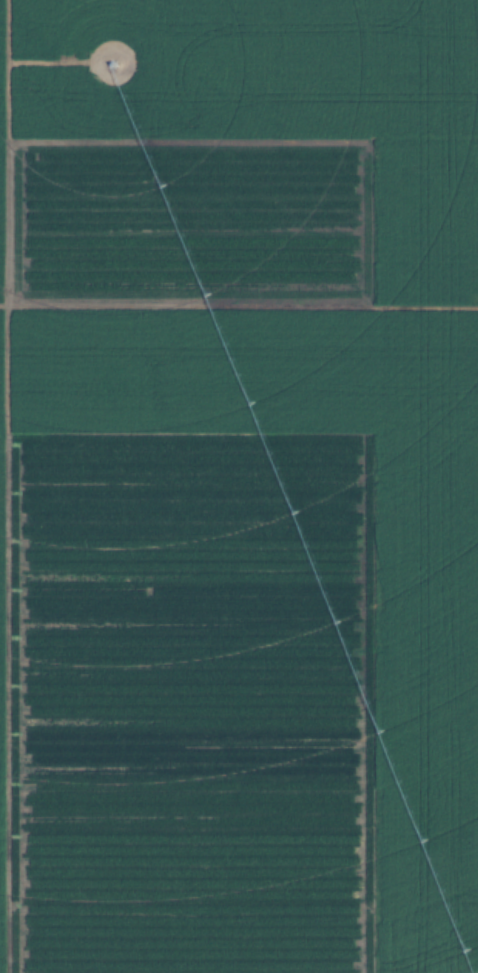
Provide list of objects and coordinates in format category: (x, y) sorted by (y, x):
crop: (238, 485)

